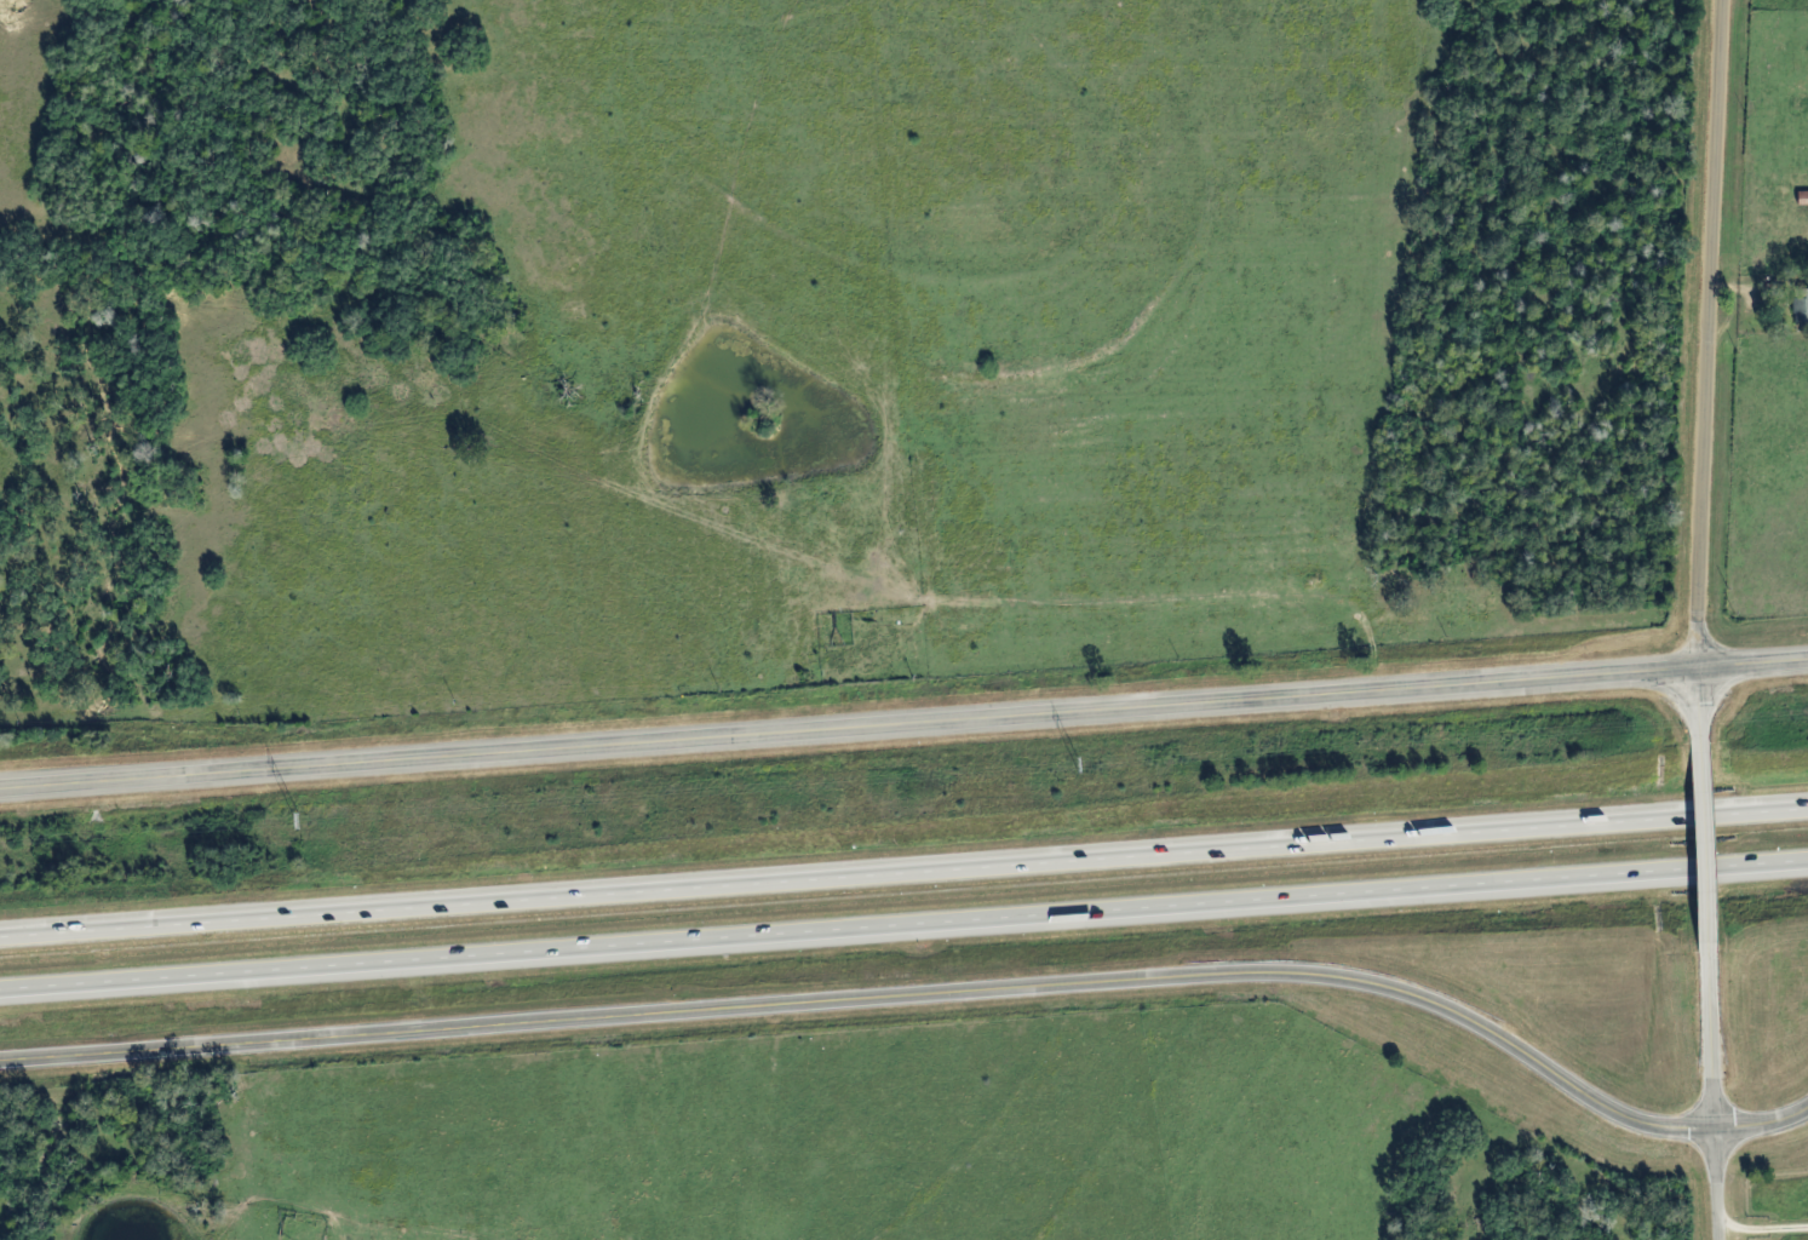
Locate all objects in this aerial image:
building: (1798, 197)
building: (1796, 306)
road: (1715, 335)
road: (1699, 707)
road: (903, 730)
power tower: (1074, 765)
power tower: (293, 821)
road: (1704, 846)
road: (903, 873)
road: (903, 931)
road: (920, 1000)
road: (1714, 1096)

